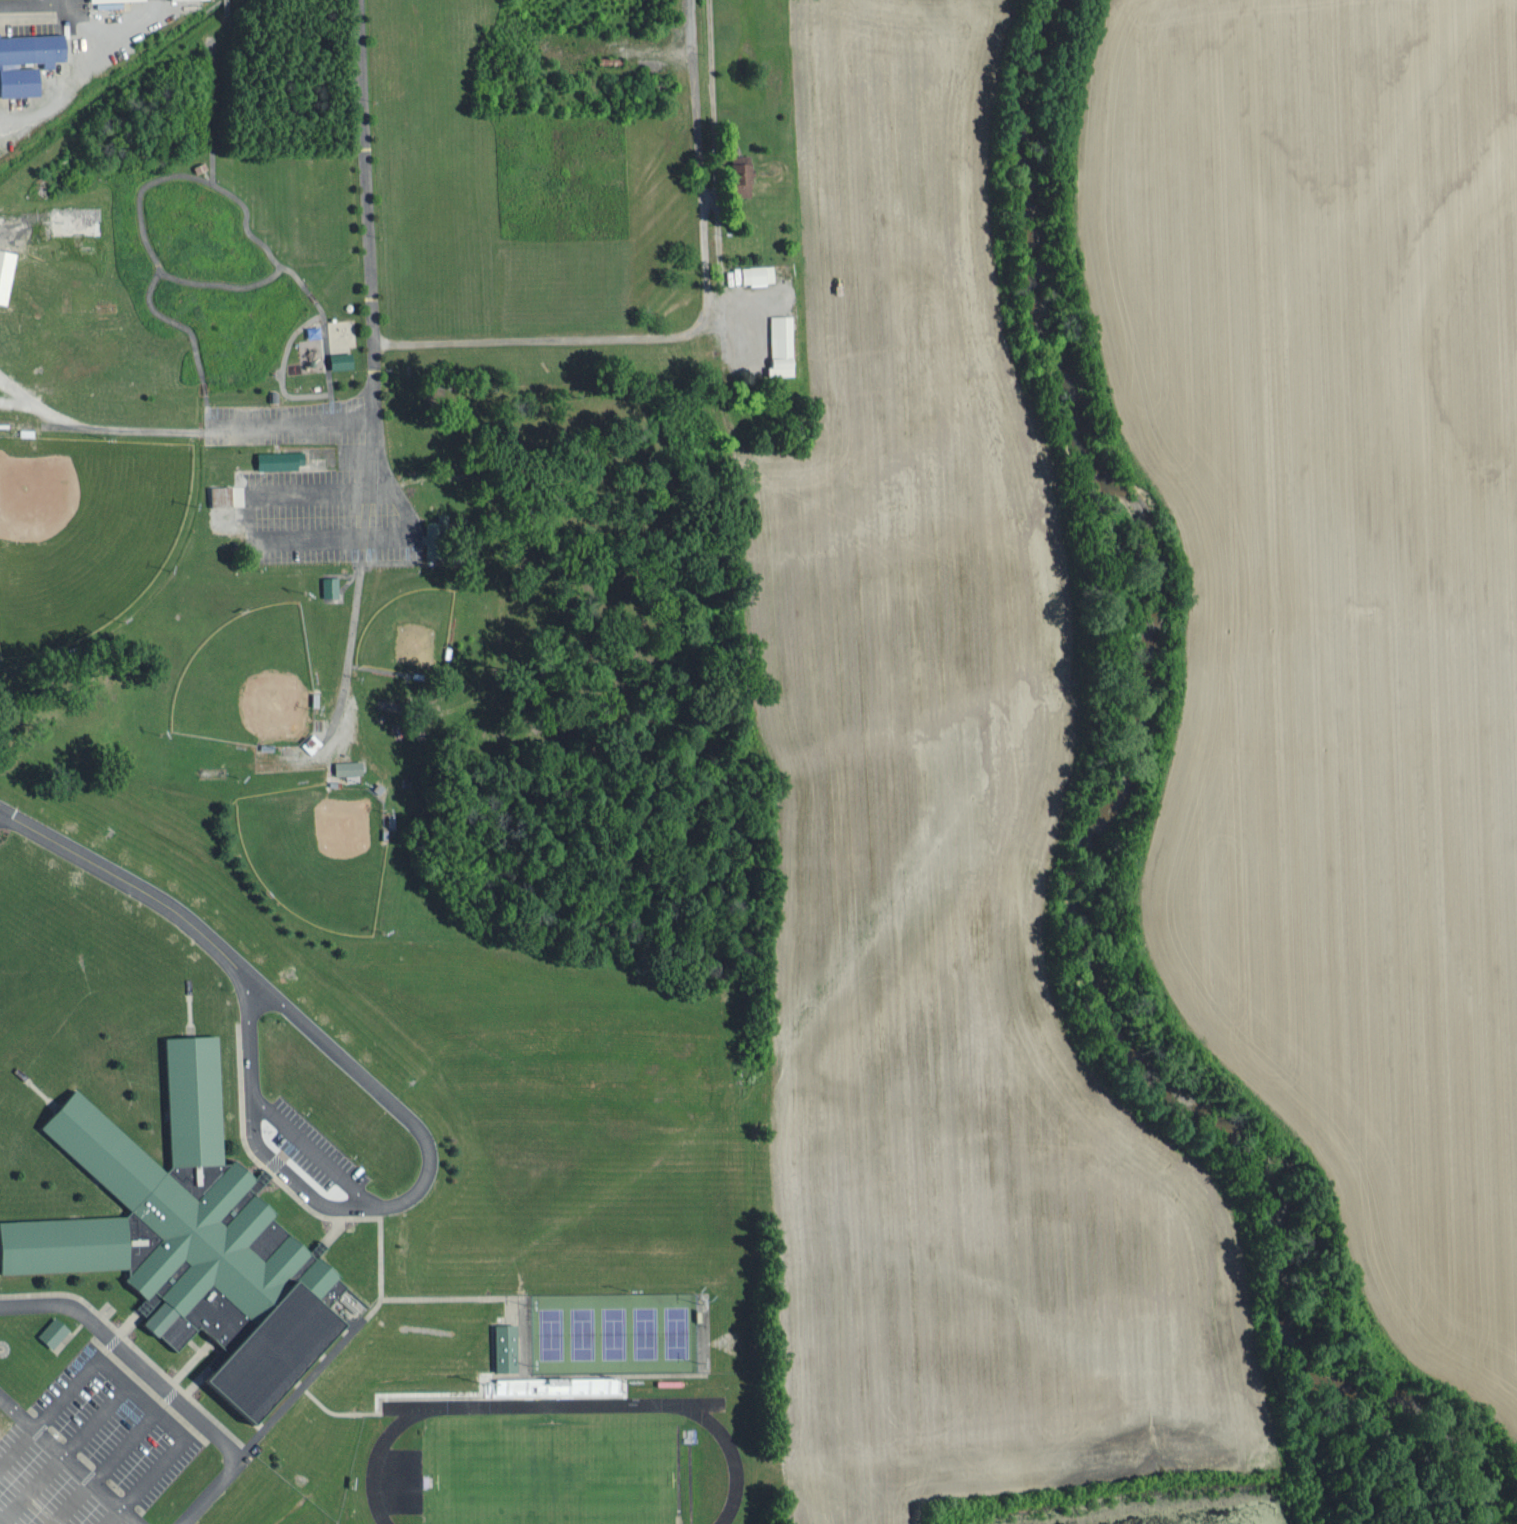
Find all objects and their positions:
building: (90, 0)
building: (26, 59)
road: (366, 171)
building: (735, 175)
building: (753, 274)
road: (599, 337)
road: (429, 341)
building: (776, 344)
building: (313, 352)
building: (335, 360)
road: (378, 418)
road: (181, 431)
building: (275, 459)
building: (224, 495)
park: (82, 531)
building: (326, 586)
park: (408, 633)
park: (248, 680)
building: (343, 767)
park: (319, 850)
road: (117, 876)
road: (420, 1184)
building: (189, 1241)
building: (48, 1330)
park: (612, 1332)
building: (500, 1345)
road: (158, 1381)
road: (71, 1459)
track: (558, 1466)
park: (554, 1471)

